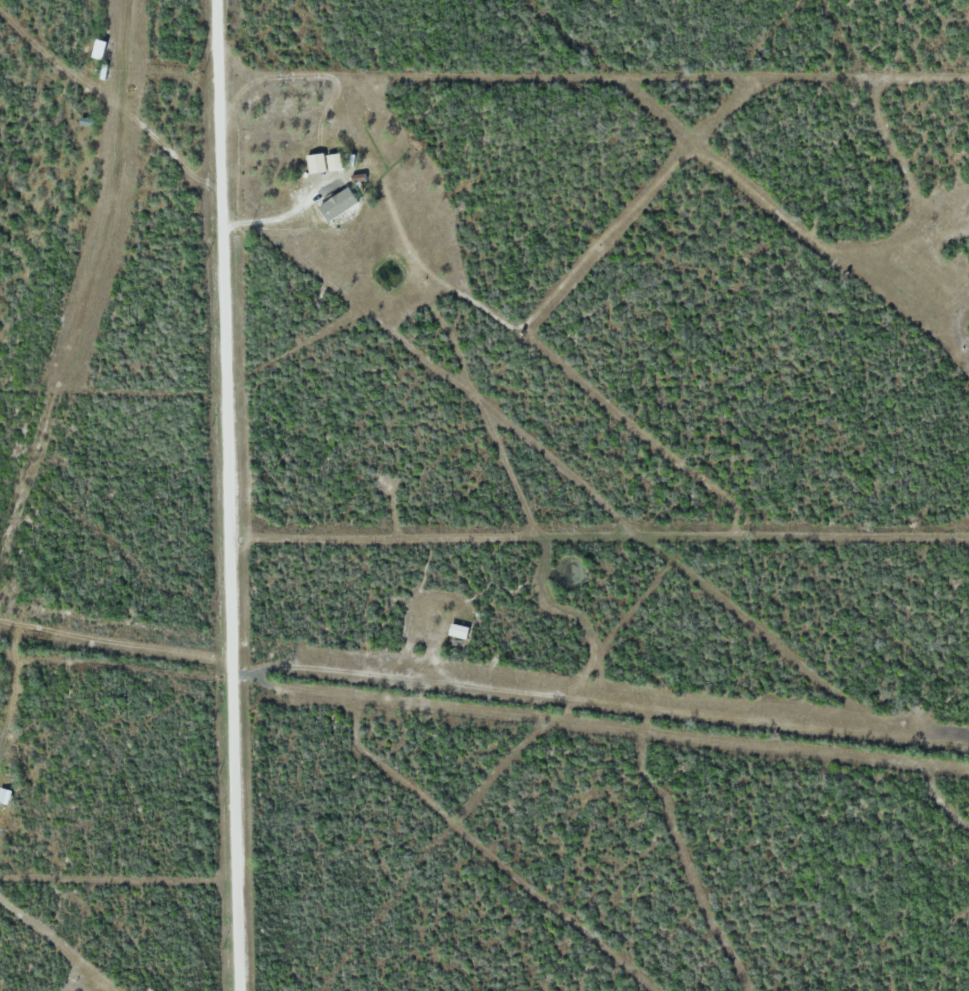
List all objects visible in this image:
building: (4, 795)

